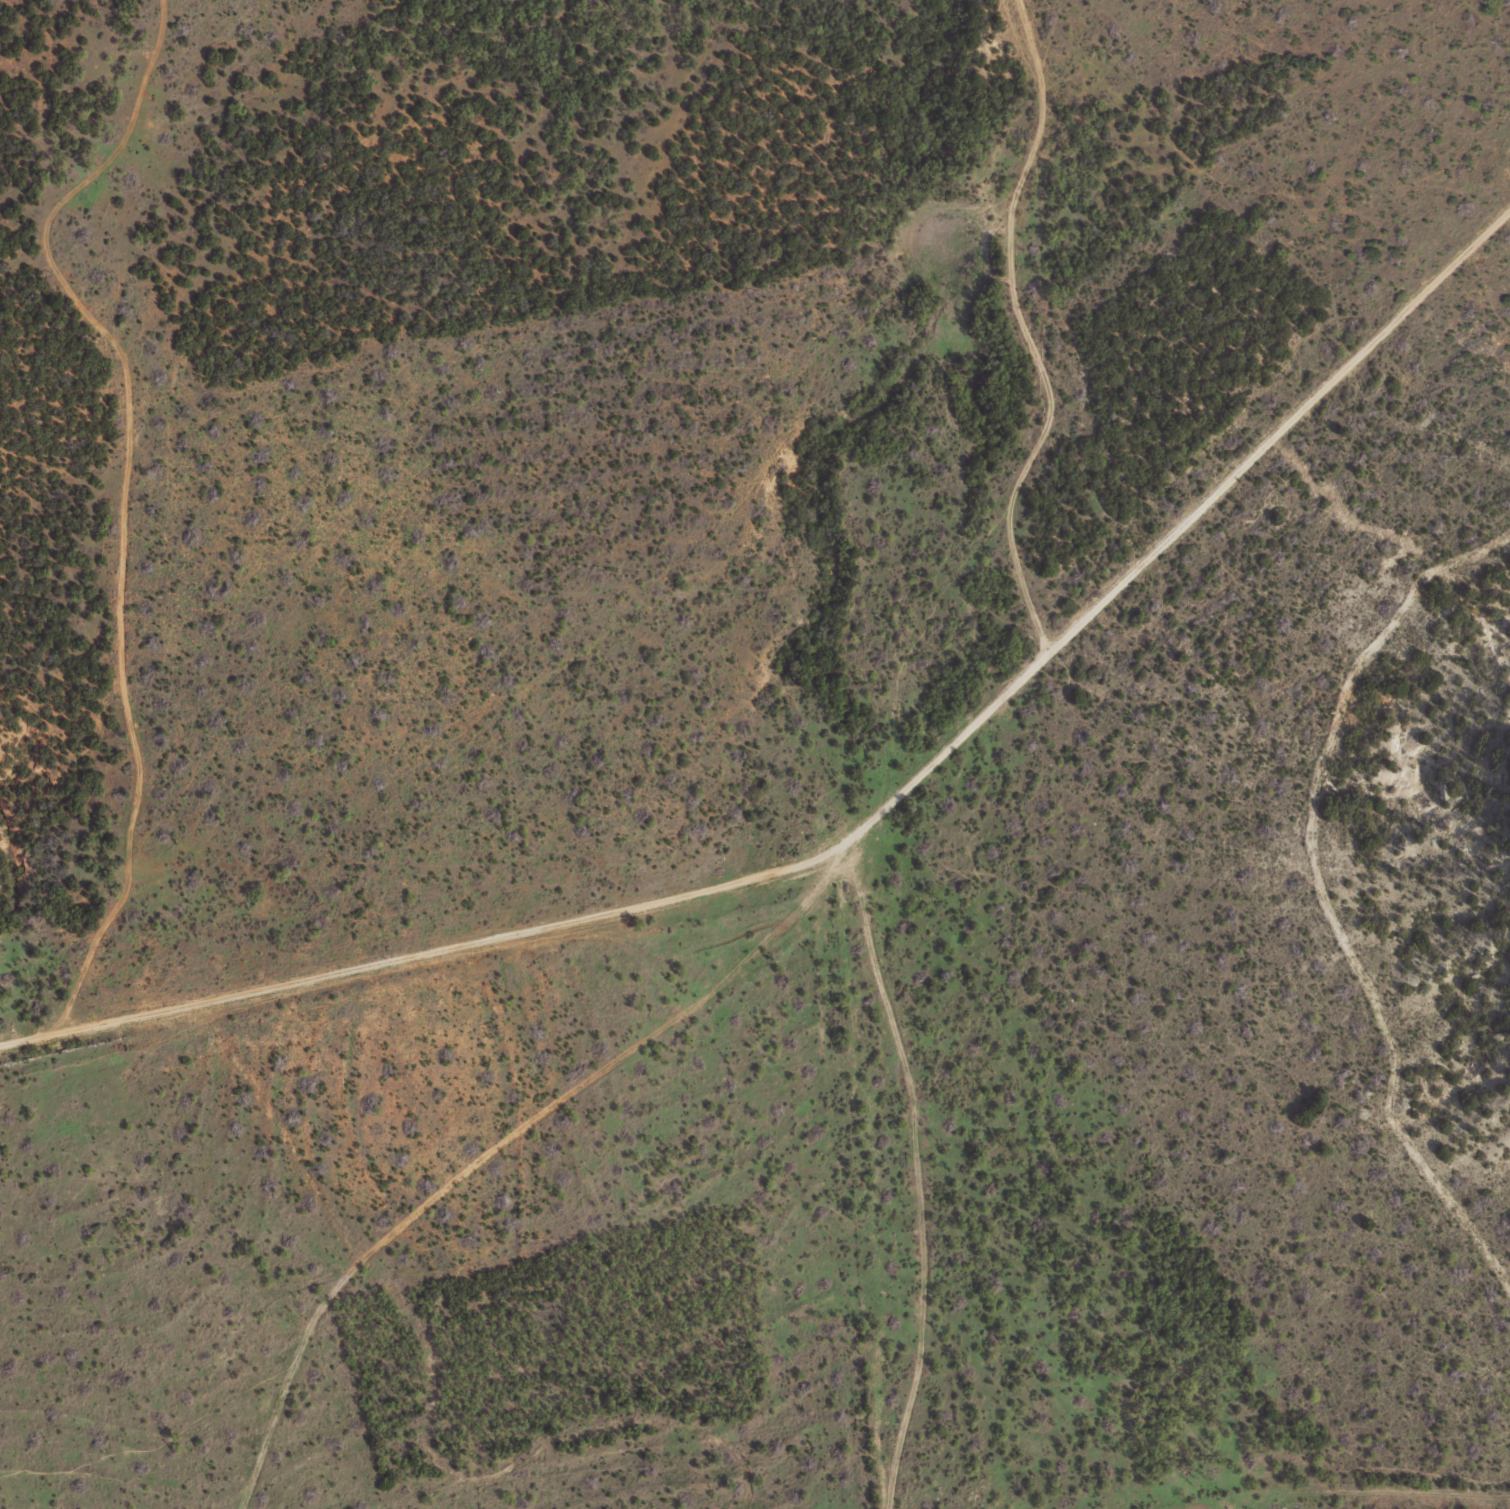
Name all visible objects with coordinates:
road: (326, 223)
road: (132, 541)
road: (868, 796)

